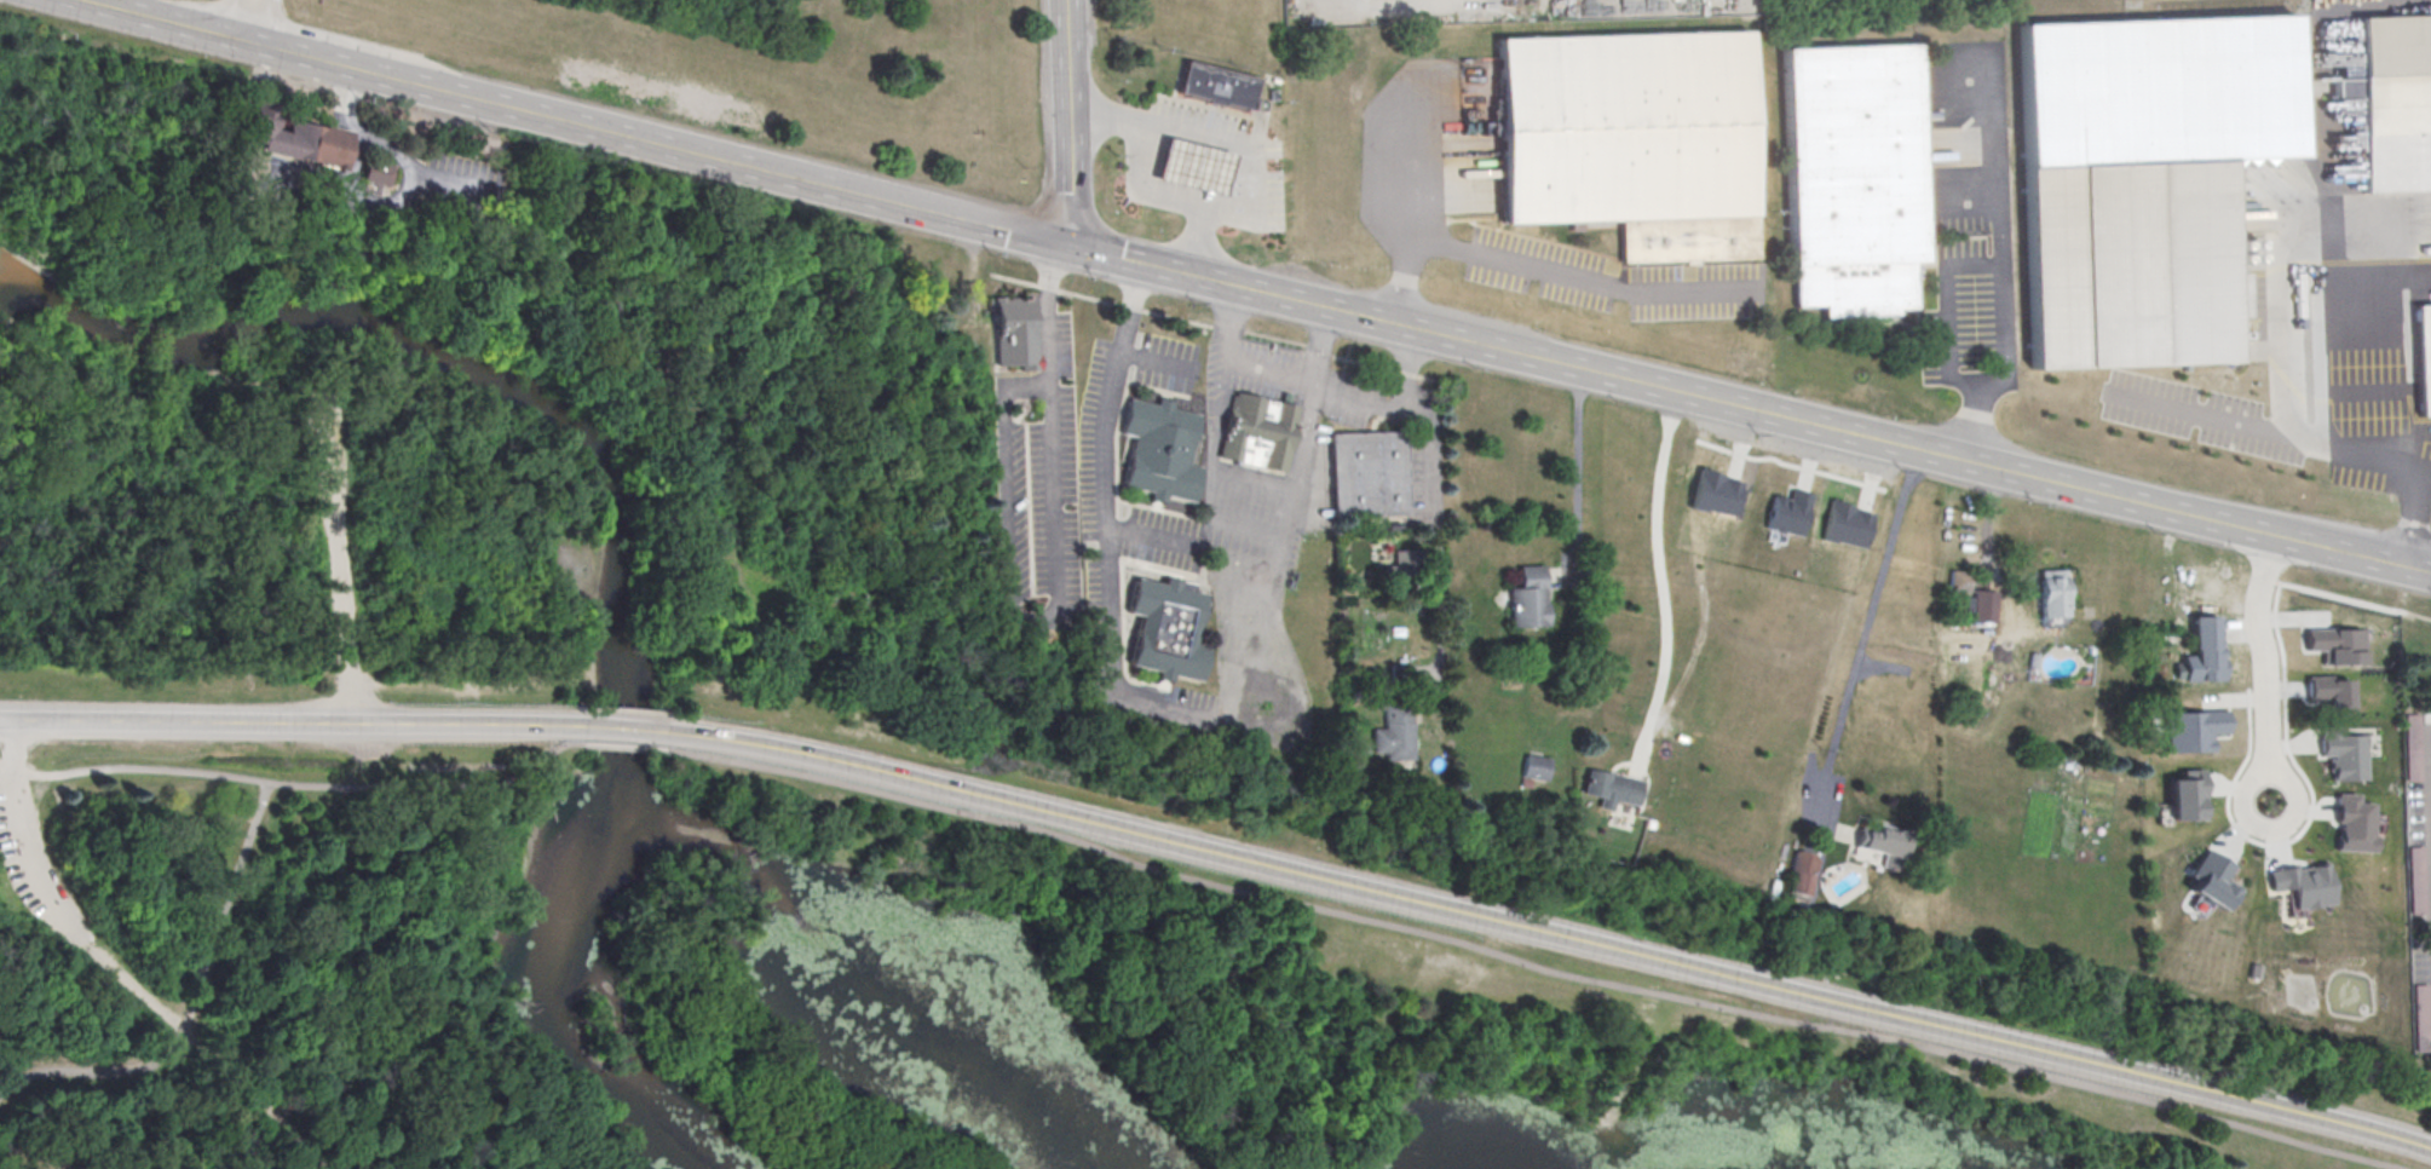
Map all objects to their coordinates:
road: (232, 18)
road: (267, 22)
road: (241, 40)
building: (1216, 91)
building: (2395, 100)
road: (1067, 123)
building: (1631, 139)
building: (294, 146)
road: (1245, 149)
road: (391, 151)
building: (373, 172)
building: (1196, 173)
building: (1851, 177)
road: (1140, 182)
road: (1018, 236)
road: (2280, 248)
traffic signals: (1072, 249)
road: (2000, 267)
building: (2130, 270)
road: (1545, 273)
road: (1948, 311)
building: (1016, 334)
building: (2423, 358)
road: (1154, 359)
road: (1234, 365)
road: (2409, 379)
road: (419, 384)
road: (160, 401)
road: (1394, 411)
building: (1258, 432)
road: (2272, 436)
building: (1158, 450)
parking lot: (329, 459)
building: (1369, 473)
road: (1580, 474)
road: (1209, 477)
road: (1250, 478)
road: (2034, 479)
building: (1787, 512)
road: (2408, 518)
river: (621, 530)
road: (1439, 539)
road: (1148, 541)
road: (338, 558)
building: (1401, 569)
road: (1242, 577)
building: (1958, 581)
road: (1661, 584)
road: (1056, 589)
building: (1527, 598)
building: (2051, 598)
building: (1983, 607)
building: (1163, 629)
road: (1862, 639)
building: (2197, 664)
road: (2264, 668)
building: (2329, 691)
road: (1198, 709)
road: (293, 724)
road: (627, 730)
building: (1394, 732)
parking lot: (370, 739)
road: (19, 743)
road: (560, 758)
building: (2327, 760)
building: (1536, 766)
road: (133, 768)
building: (1611, 787)
road: (364, 789)
park: (813, 840)
building: (1884, 842)
road: (31, 868)
parking lot: (41, 870)
building: (1803, 871)
building: (2210, 880)
road: (1550, 934)
road: (363, 960)
road: (1530, 966)
road: (133, 995)
road: (190, 1004)
road: (1373, 1044)
road: (294, 1061)
road: (1637, 1061)
road: (417, 1076)
road: (255, 1099)
road: (442, 1156)

